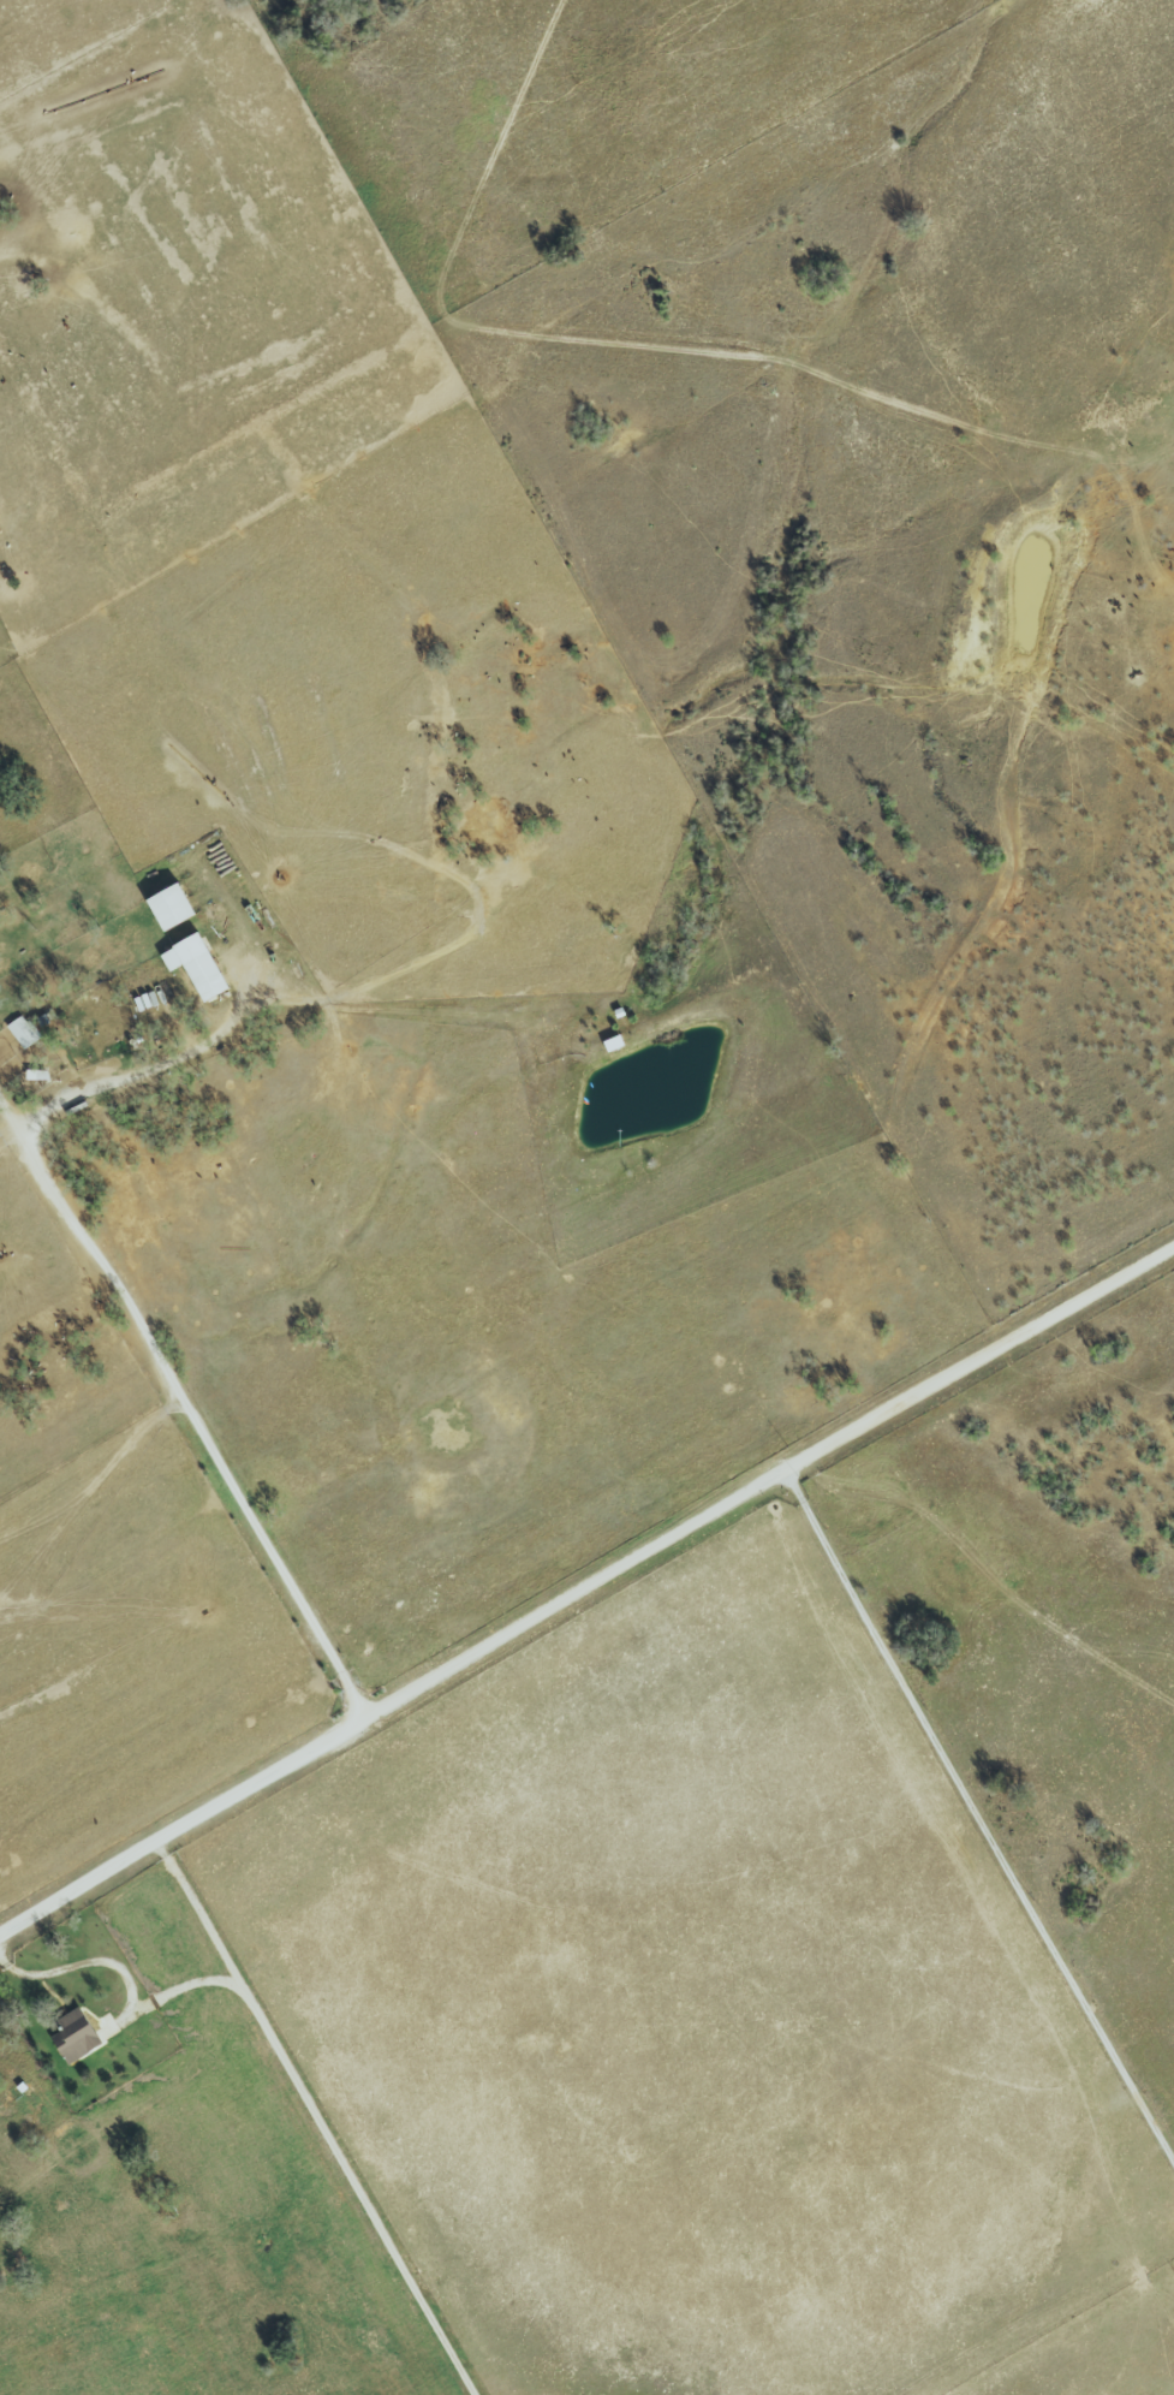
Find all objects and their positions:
building: (166, 908)
building: (192, 967)
building: (20, 1032)
road: (135, 1071)
building: (34, 1075)
road: (180, 1404)
road: (584, 1585)
road: (977, 1823)
road: (175, 1990)
building: (71, 2037)

